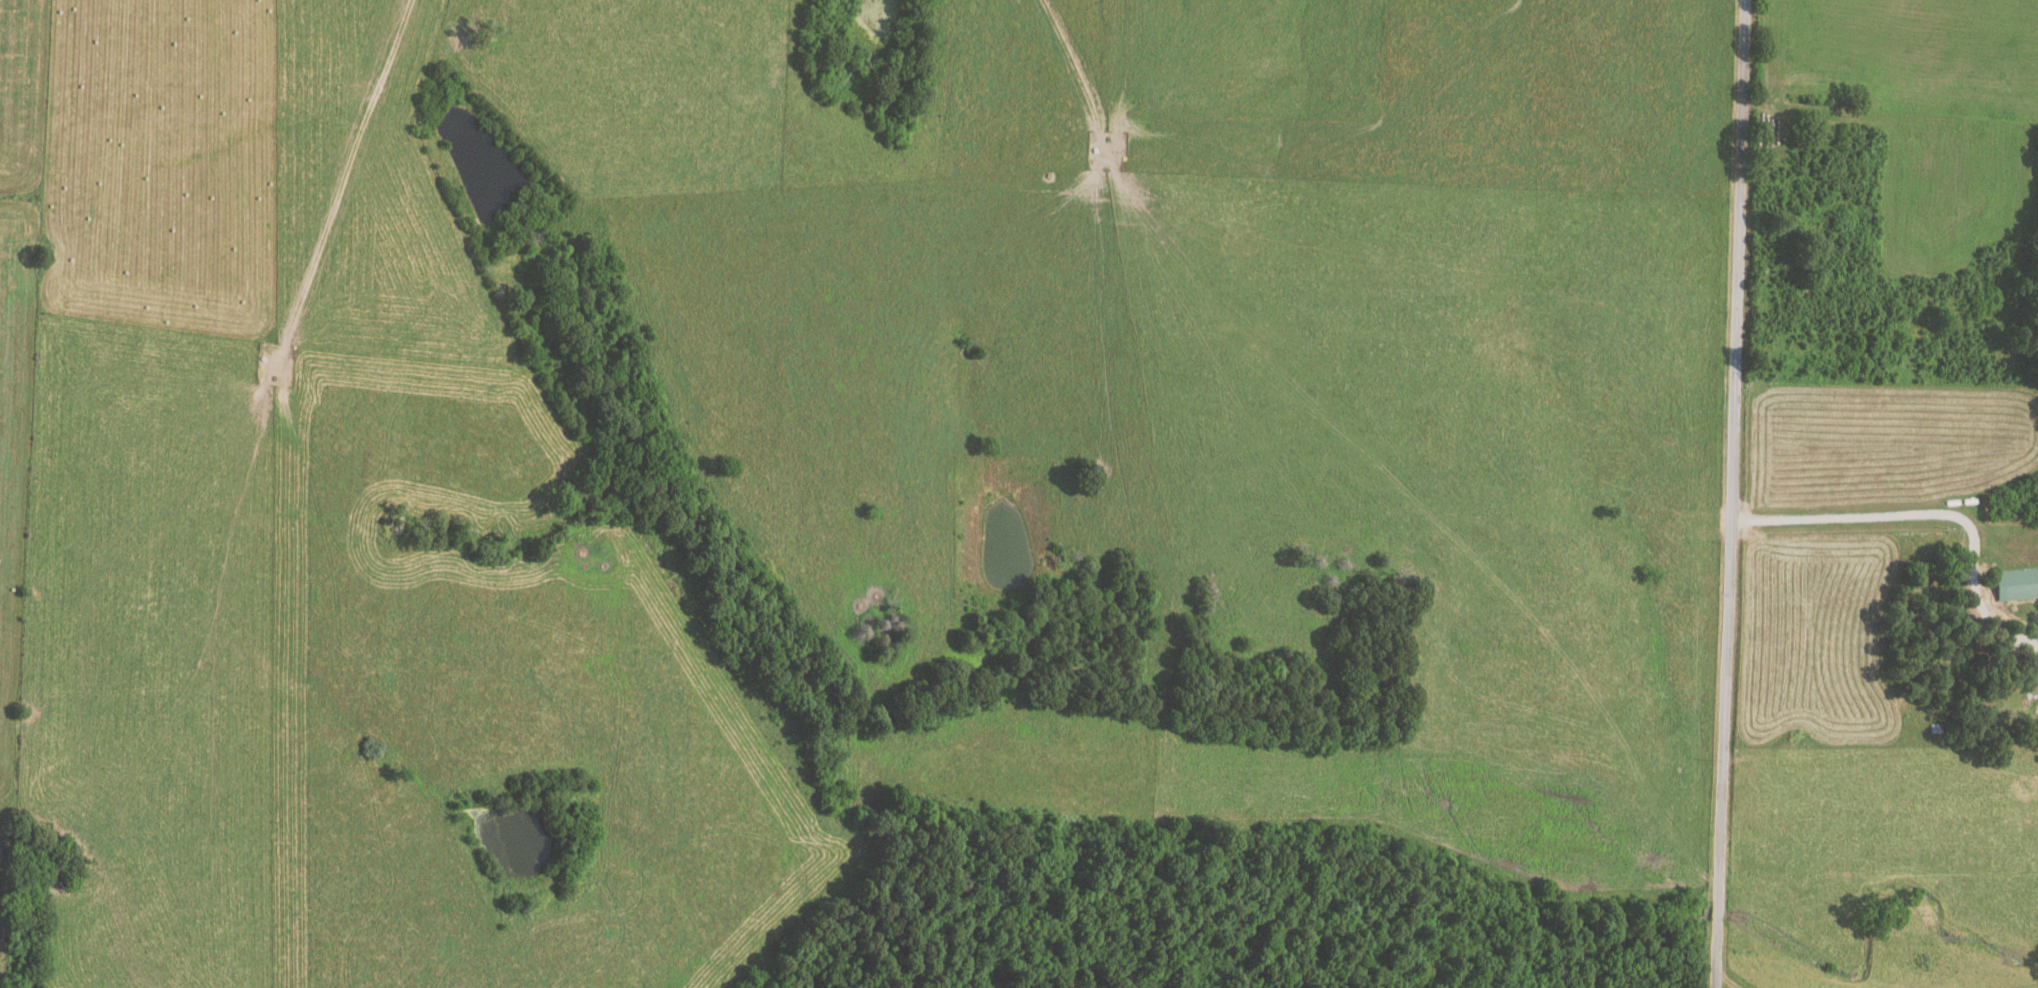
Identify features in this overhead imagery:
road: (1730, 494)
building: (2018, 583)
road: (1726, 983)

